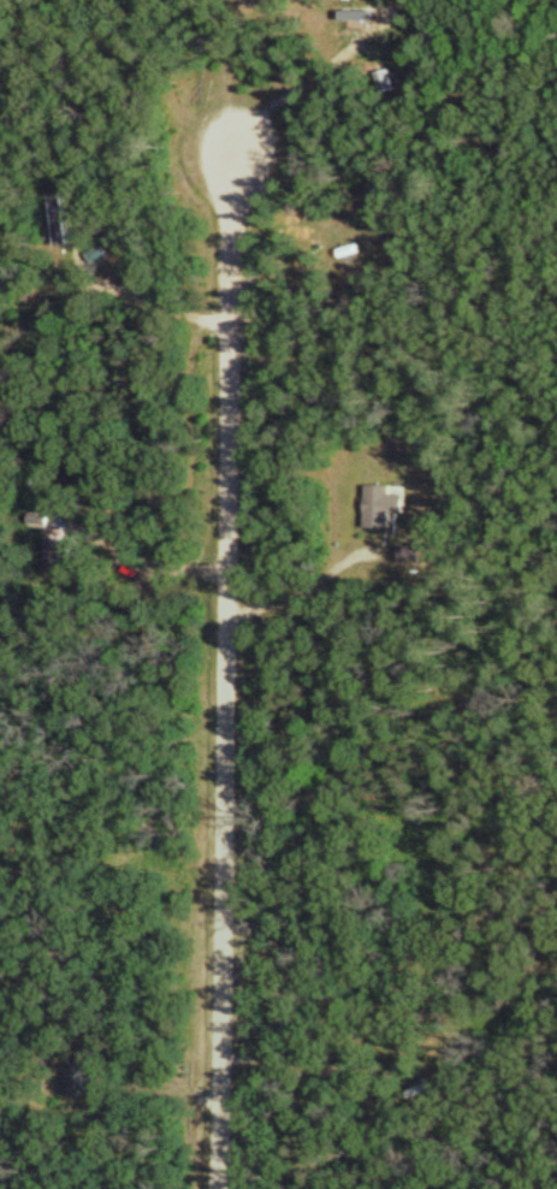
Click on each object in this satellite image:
building: (386, 78)
building: (64, 221)
building: (102, 252)
building: (385, 504)
building: (416, 551)
road: (230, 669)
building: (88, 1076)

